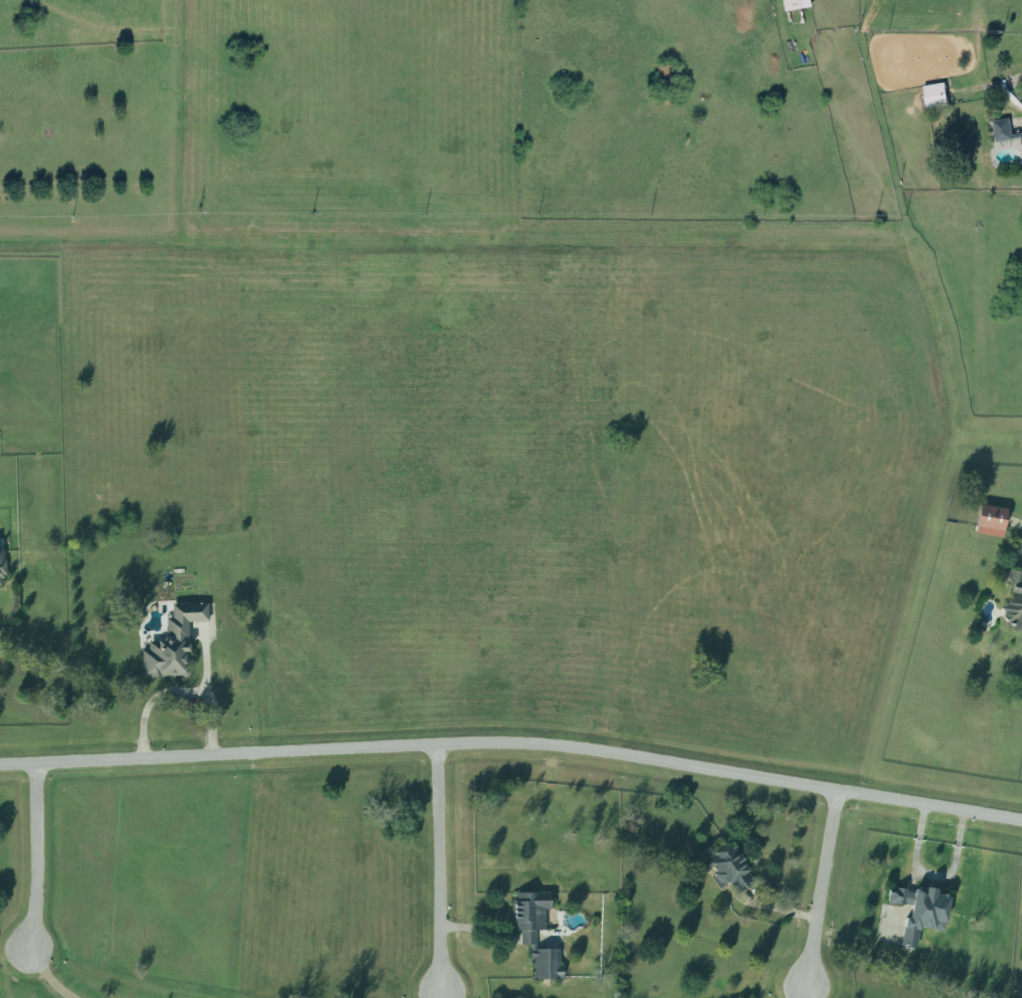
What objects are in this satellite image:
building: (795, 3)
building: (934, 93)
building: (1003, 127)
building: (990, 521)
building: (2, 564)
building: (1014, 603)
building: (173, 643)
road: (210, 694)
road: (153, 700)
road: (513, 746)
road: (33, 859)
road: (439, 870)
building: (727, 870)
road: (931, 877)
road: (818, 891)
building: (920, 912)
building: (525, 938)
road: (50, 977)
road: (799, 993)
road: (805, 993)
road: (441, 997)

